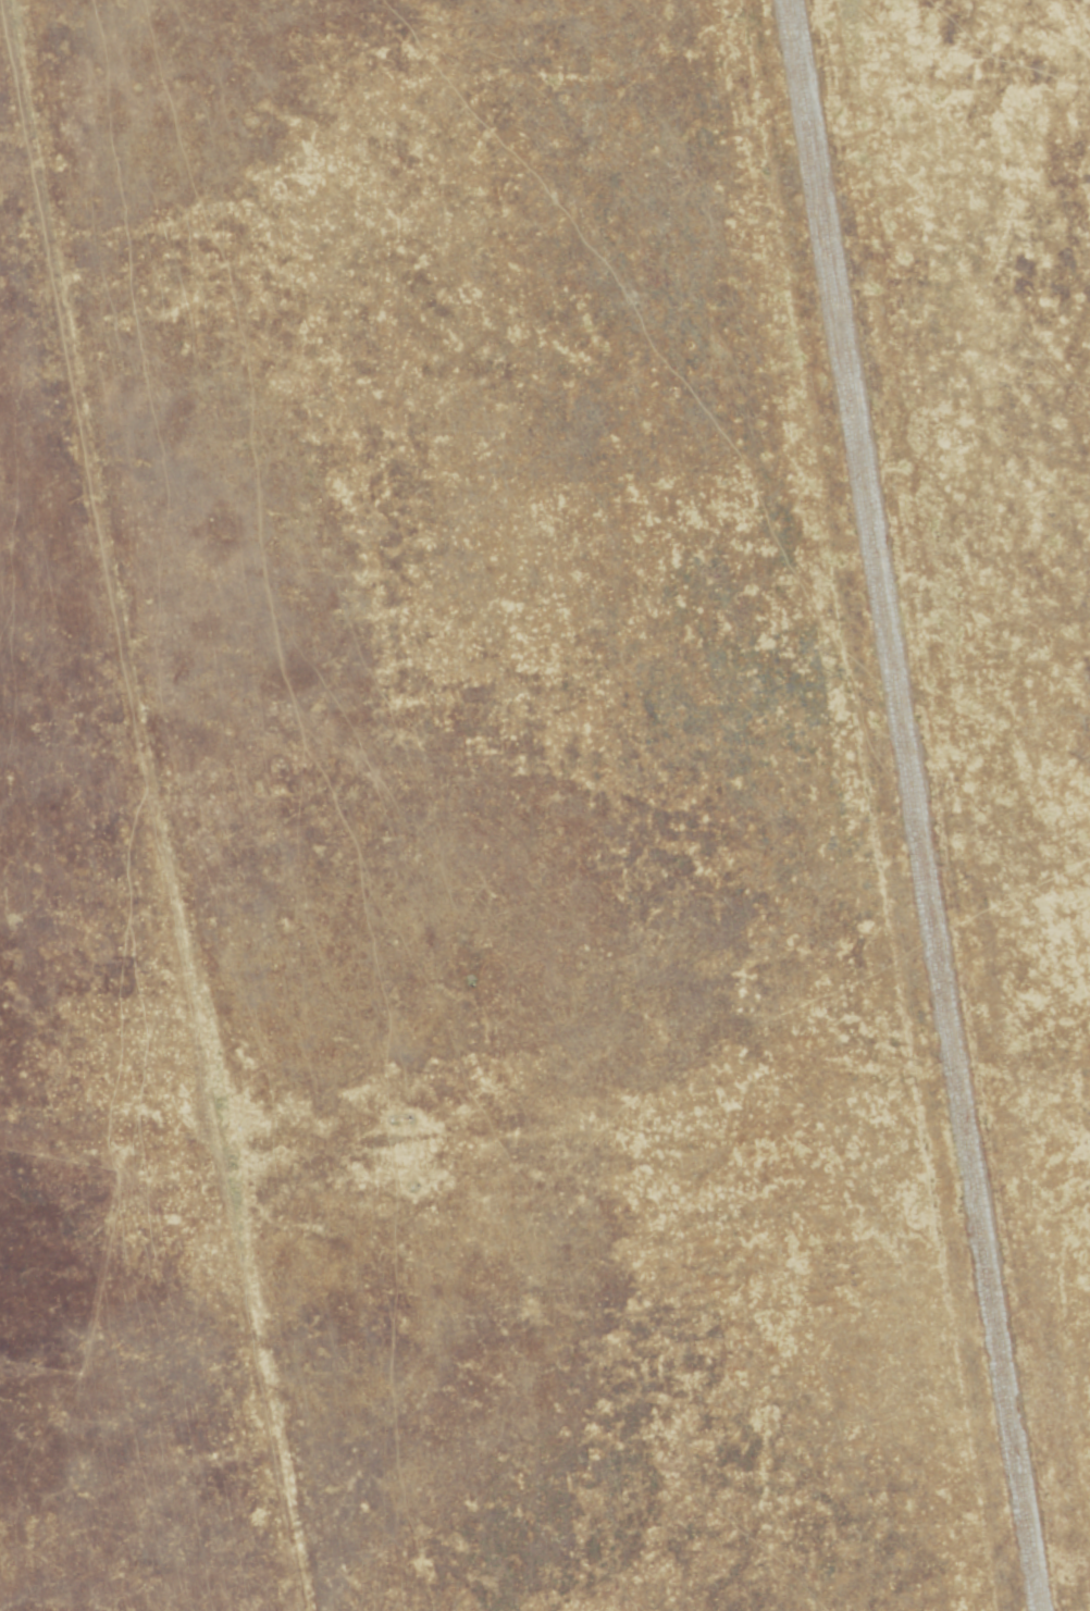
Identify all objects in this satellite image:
road: (112, 611)

